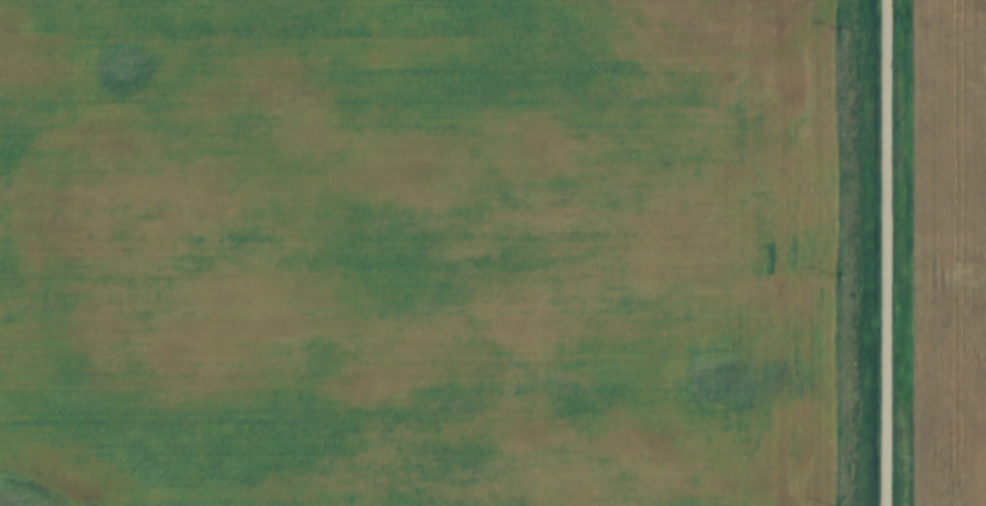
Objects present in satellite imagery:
road: (886, 253)

